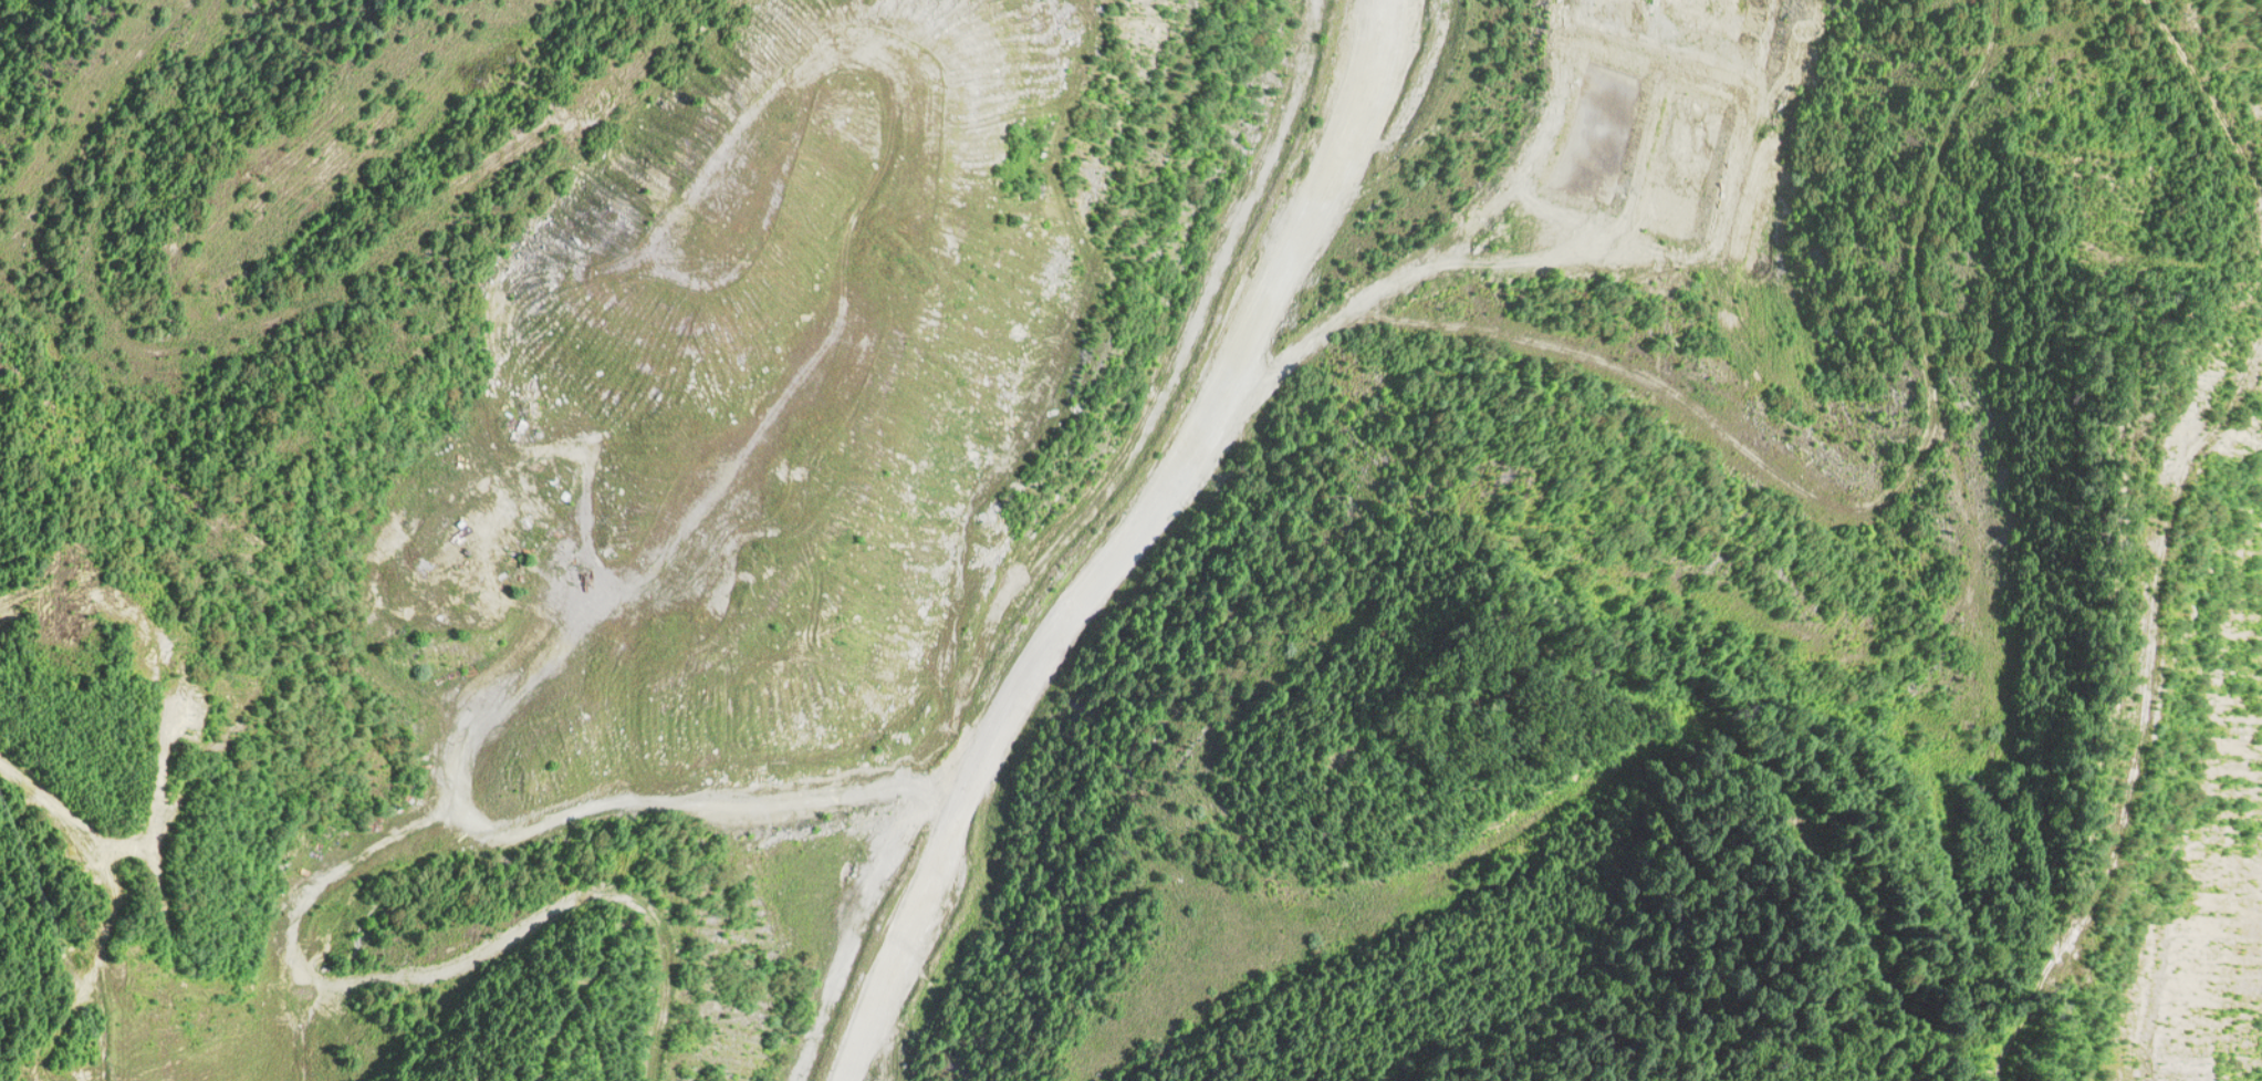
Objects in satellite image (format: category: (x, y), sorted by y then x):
quarry: (1130, 540)

